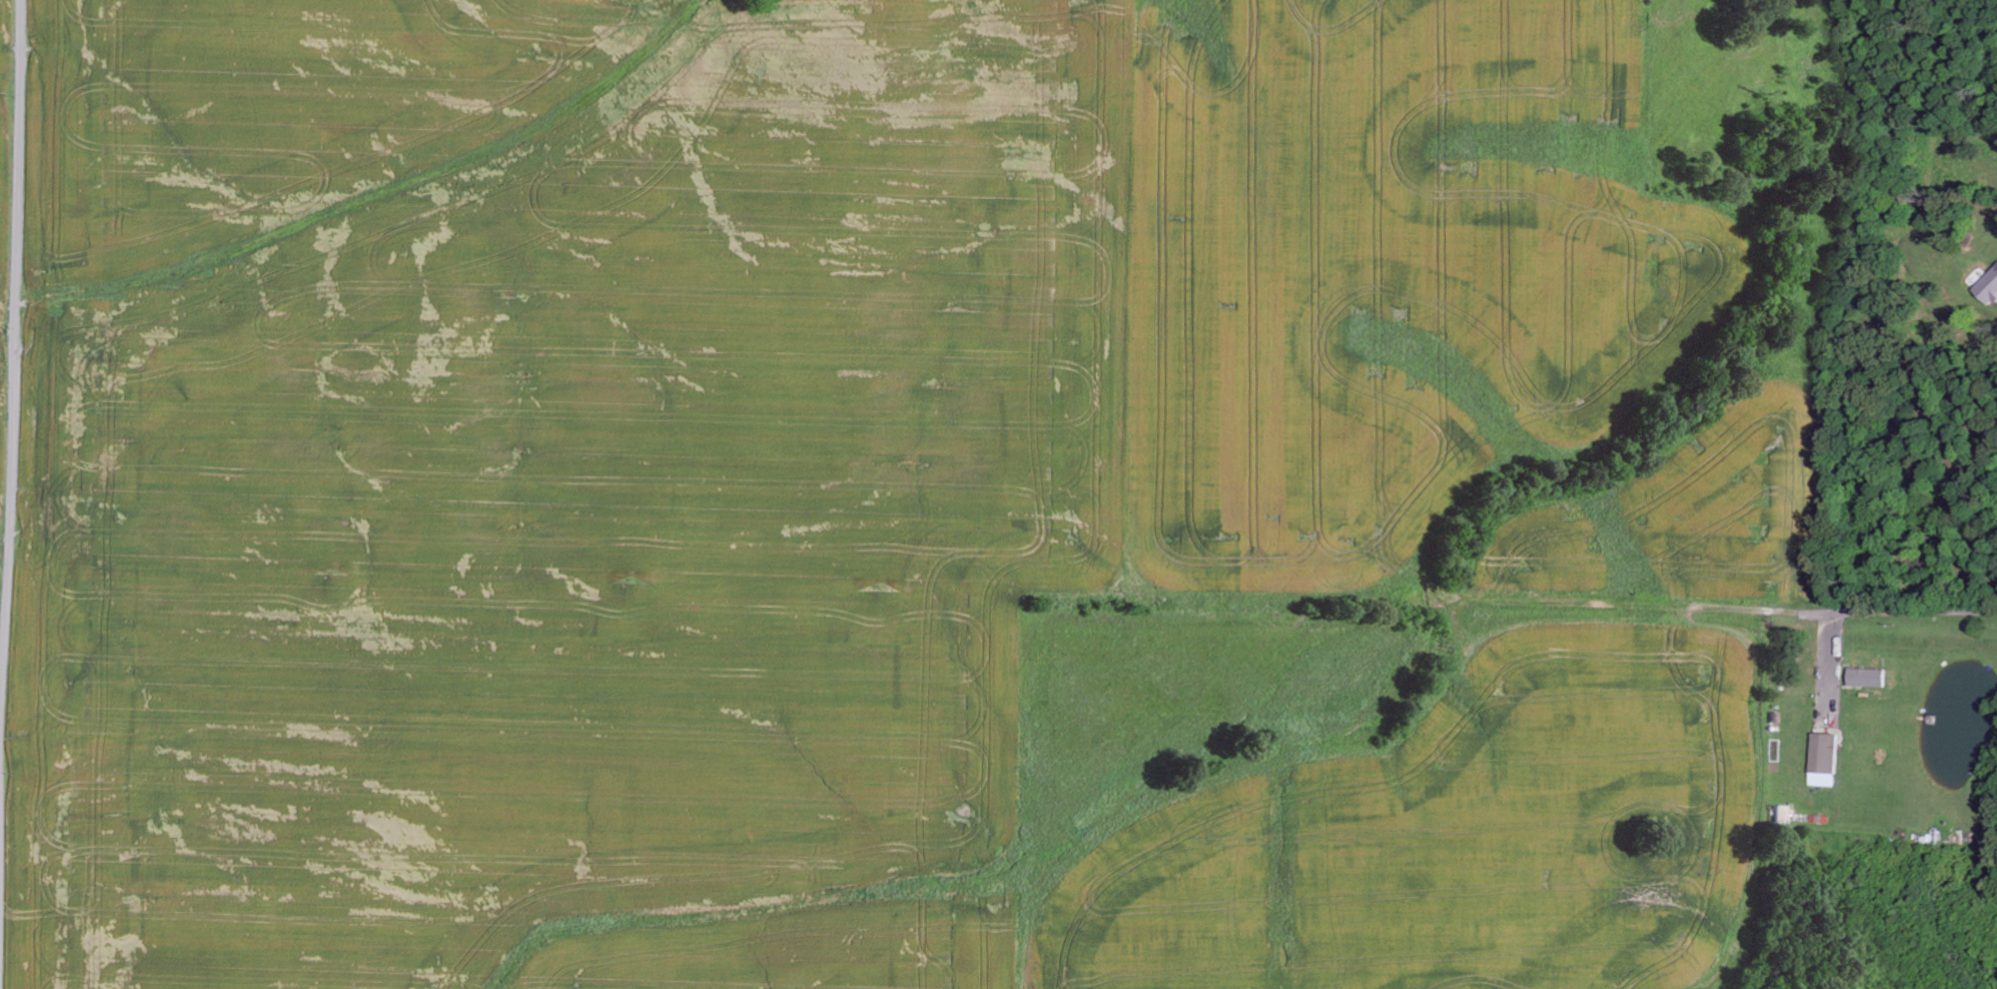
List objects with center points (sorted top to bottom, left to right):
building: (1989, 288)
road: (13, 494)
road: (1907, 603)
building: (1870, 677)
building: (1826, 759)
building: (1782, 813)

